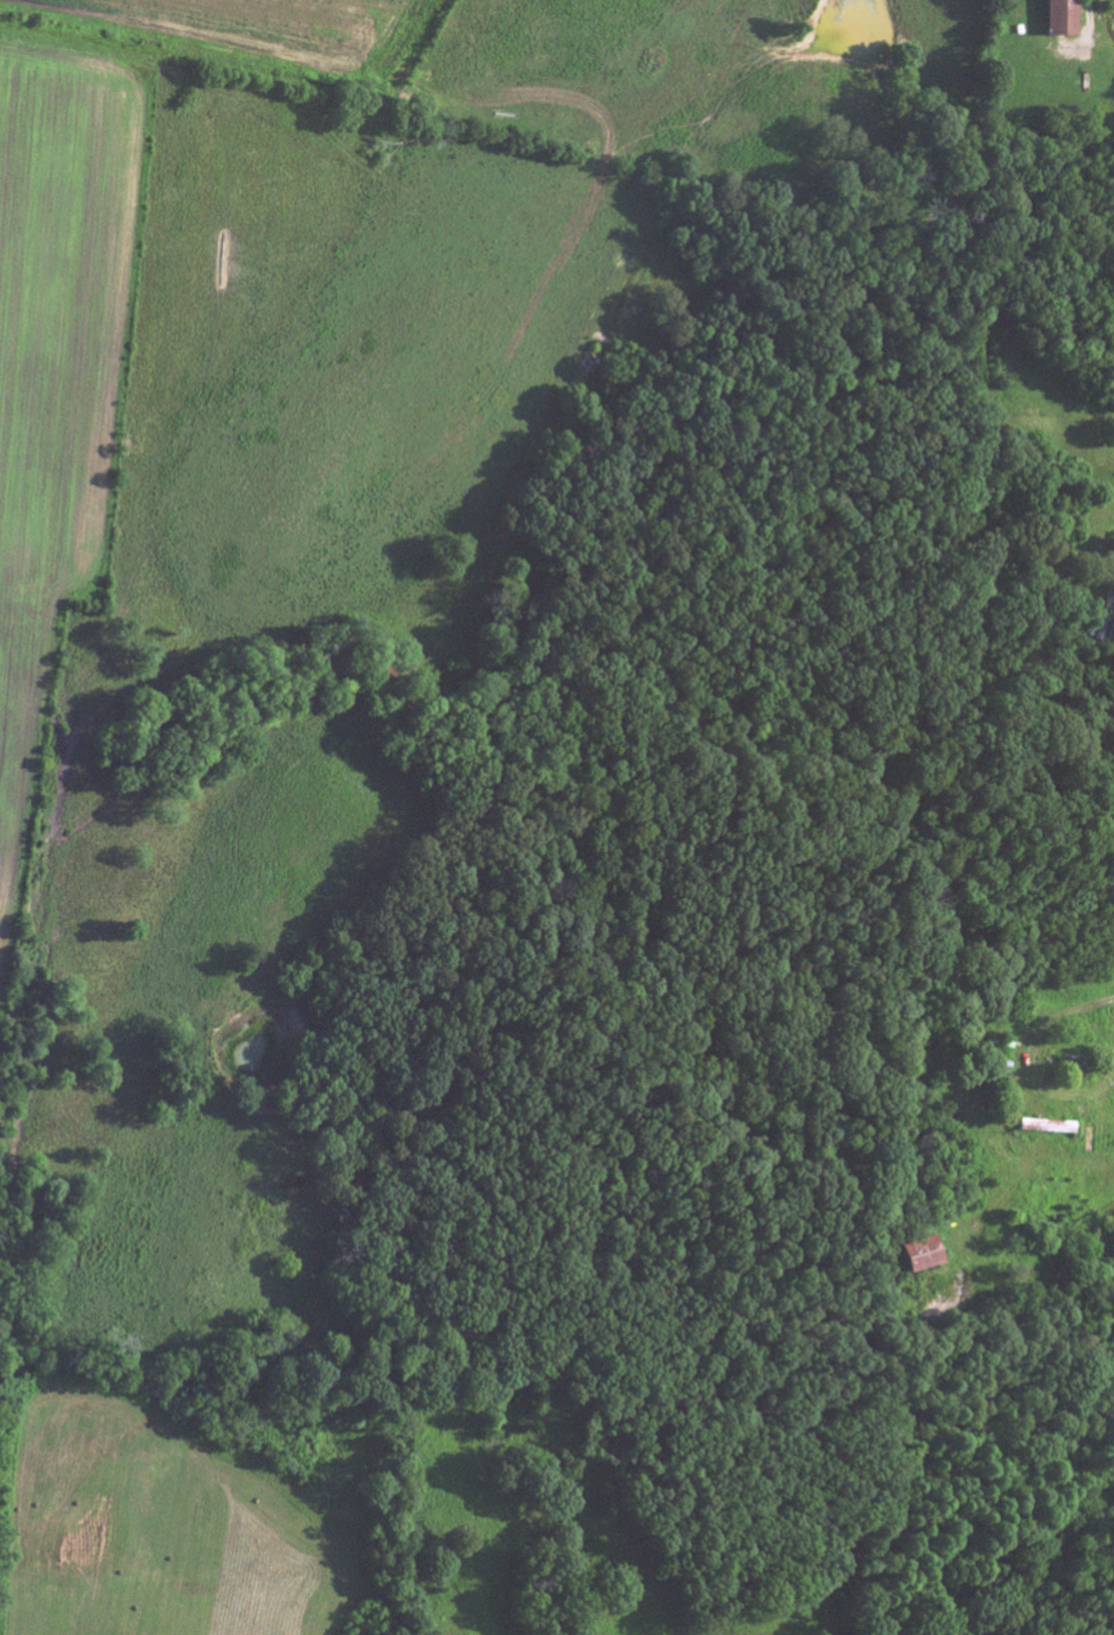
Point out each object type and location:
building: (1059, 20)
road: (1029, 1033)
building: (1044, 1129)
building: (1088, 1144)

